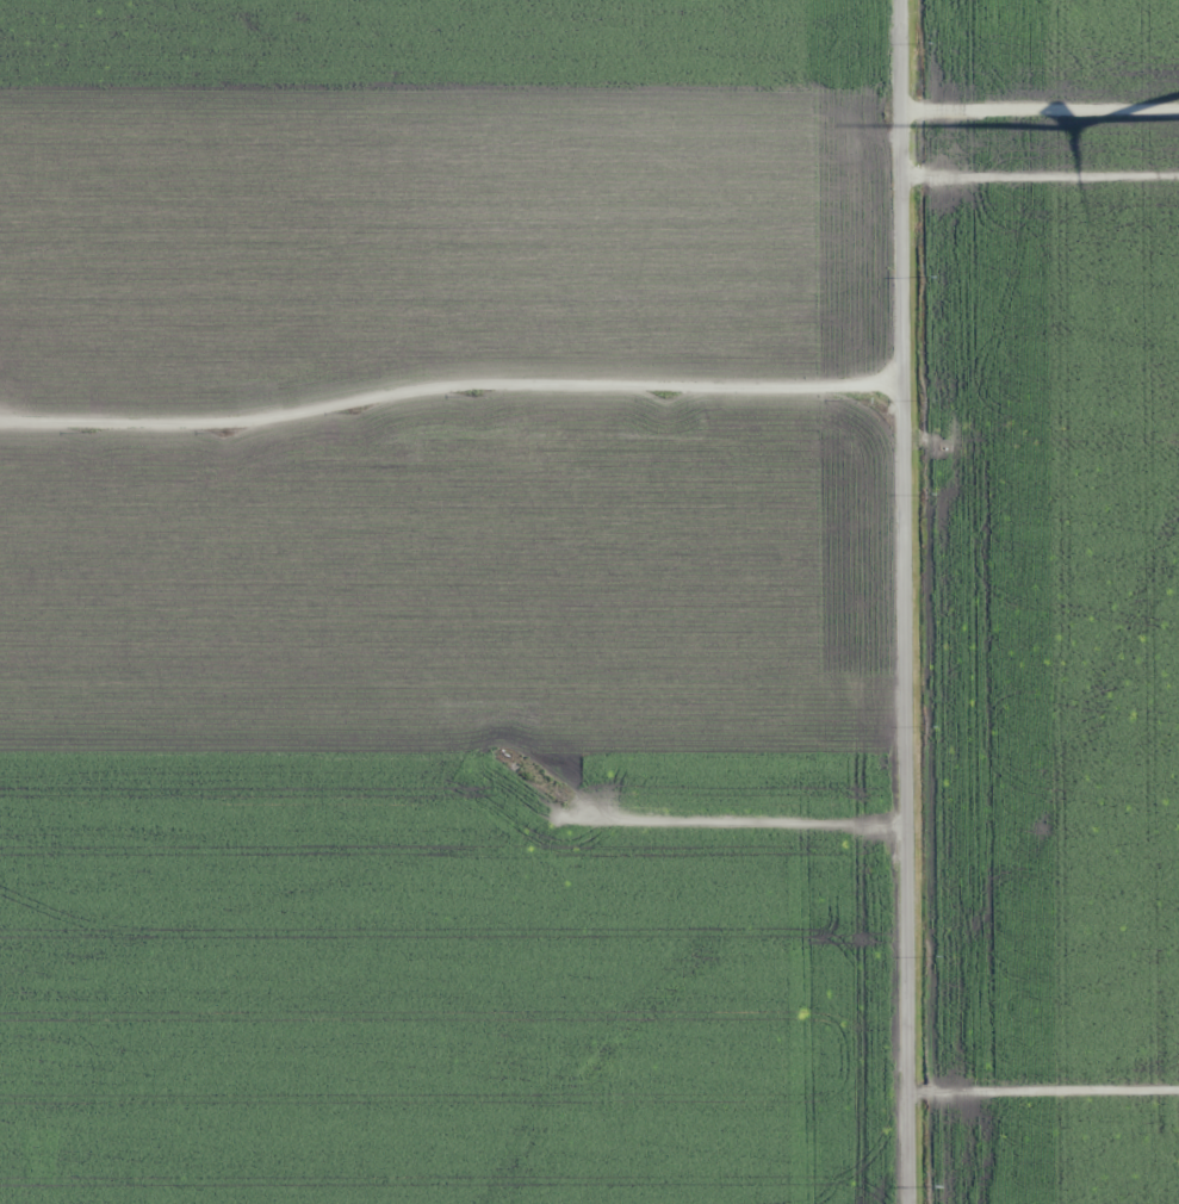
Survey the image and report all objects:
road: (1032, 201)
road: (445, 411)
road: (896, 602)
road: (589, 1106)

